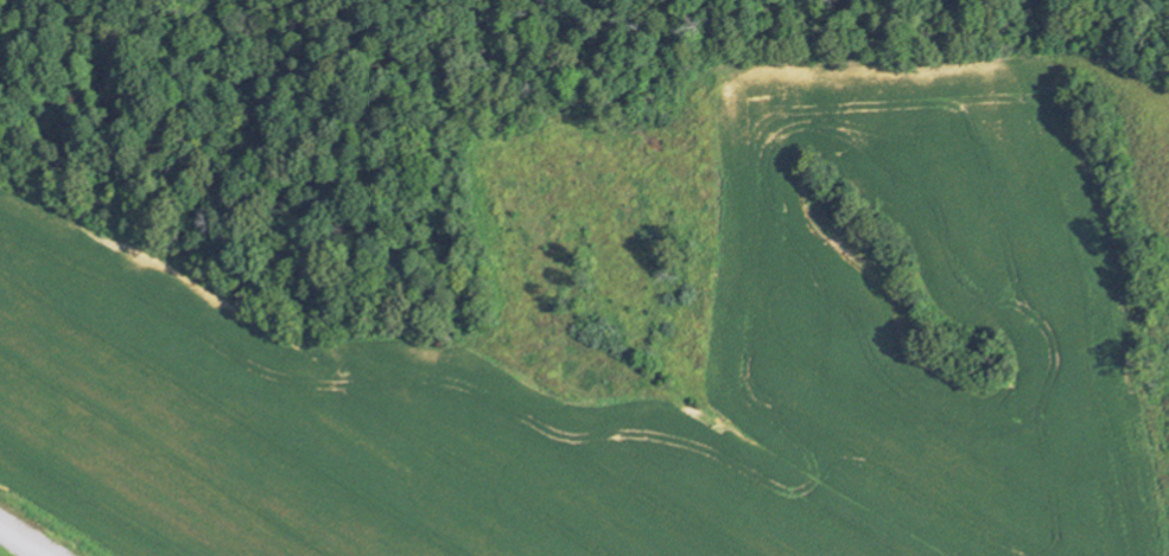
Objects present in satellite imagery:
road: (25, 541)

